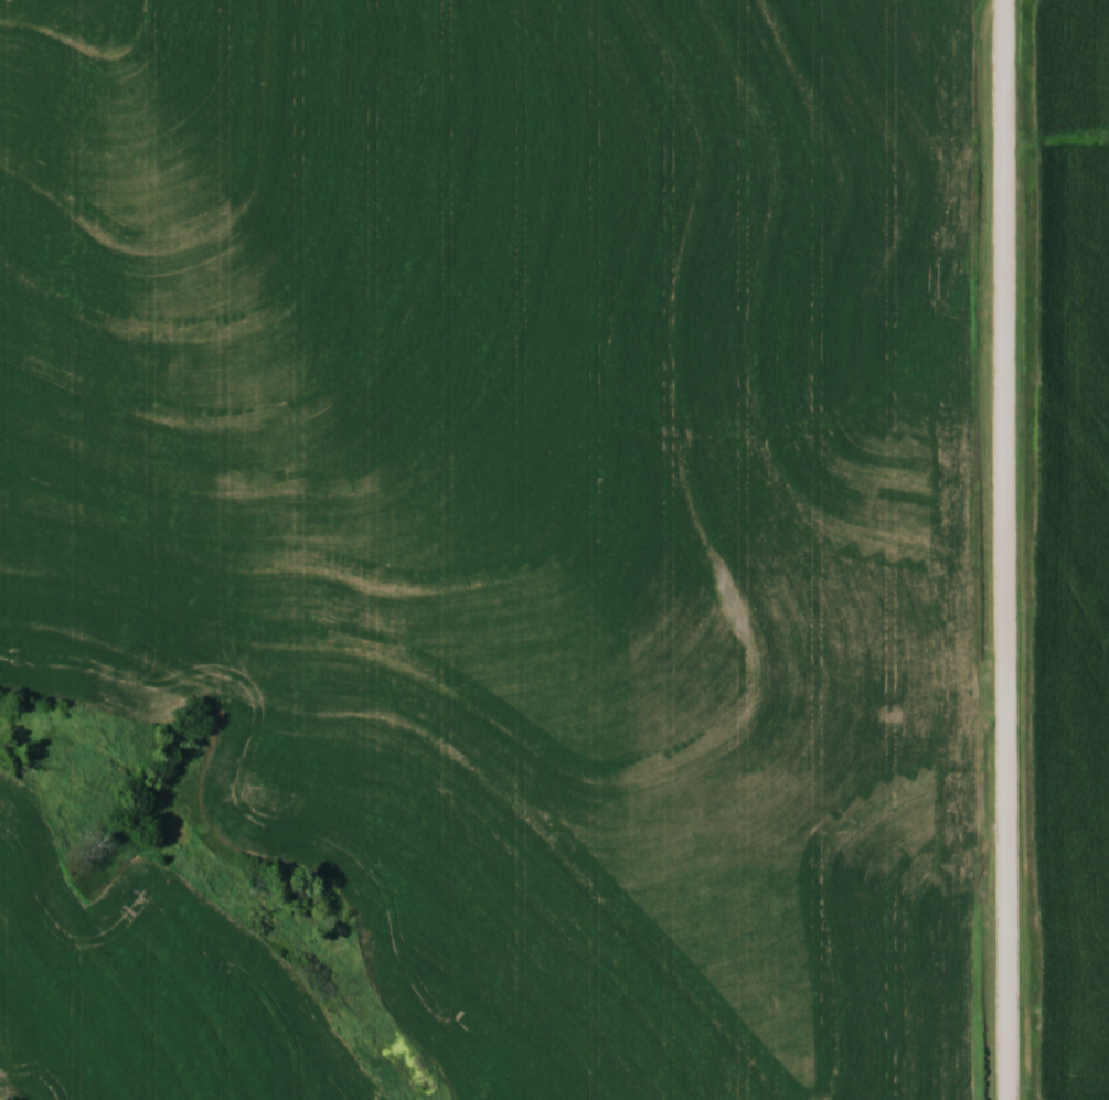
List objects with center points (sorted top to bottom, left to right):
road: (1006, 549)

